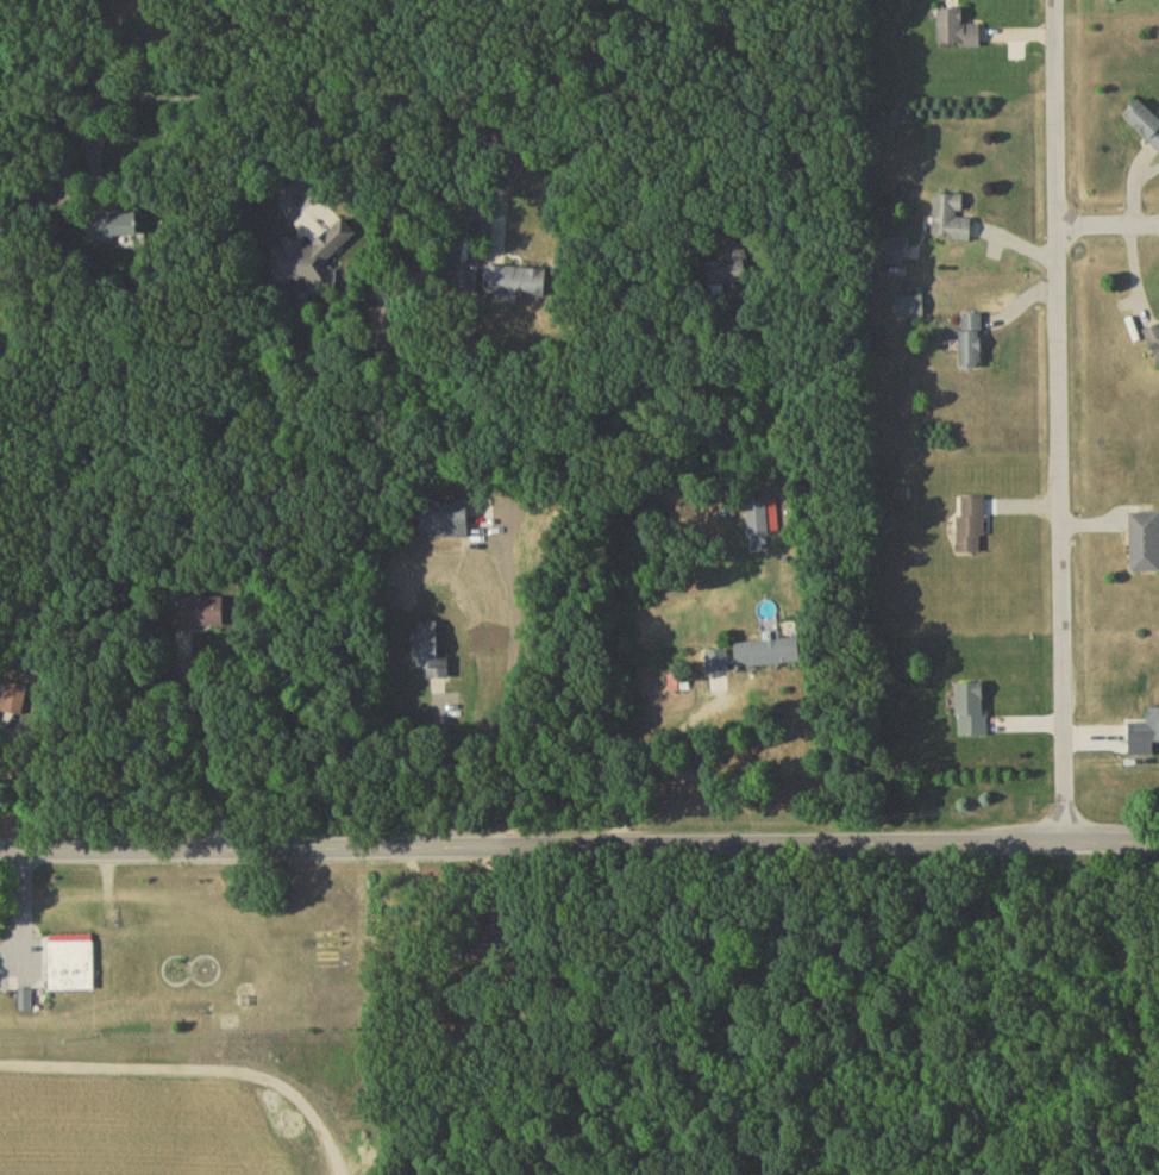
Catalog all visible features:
building: (958, 33)
road: (383, 75)
building: (1145, 126)
building: (952, 224)
building: (118, 230)
road: (1107, 230)
building: (308, 261)
building: (726, 267)
building: (516, 285)
building: (910, 310)
building: (1154, 340)
building: (972, 343)
road: (1057, 420)
building: (762, 519)
building: (444, 523)
building: (972, 527)
building: (1145, 544)
building: (196, 615)
building: (430, 654)
building: (769, 656)
road: (510, 688)
building: (13, 702)
building: (972, 712)
building: (1148, 731)
road: (199, 743)
road: (638, 748)
road: (451, 765)
road: (578, 845)
road: (21, 894)
building: (71, 968)
building: (25, 1002)
road: (203, 1057)

